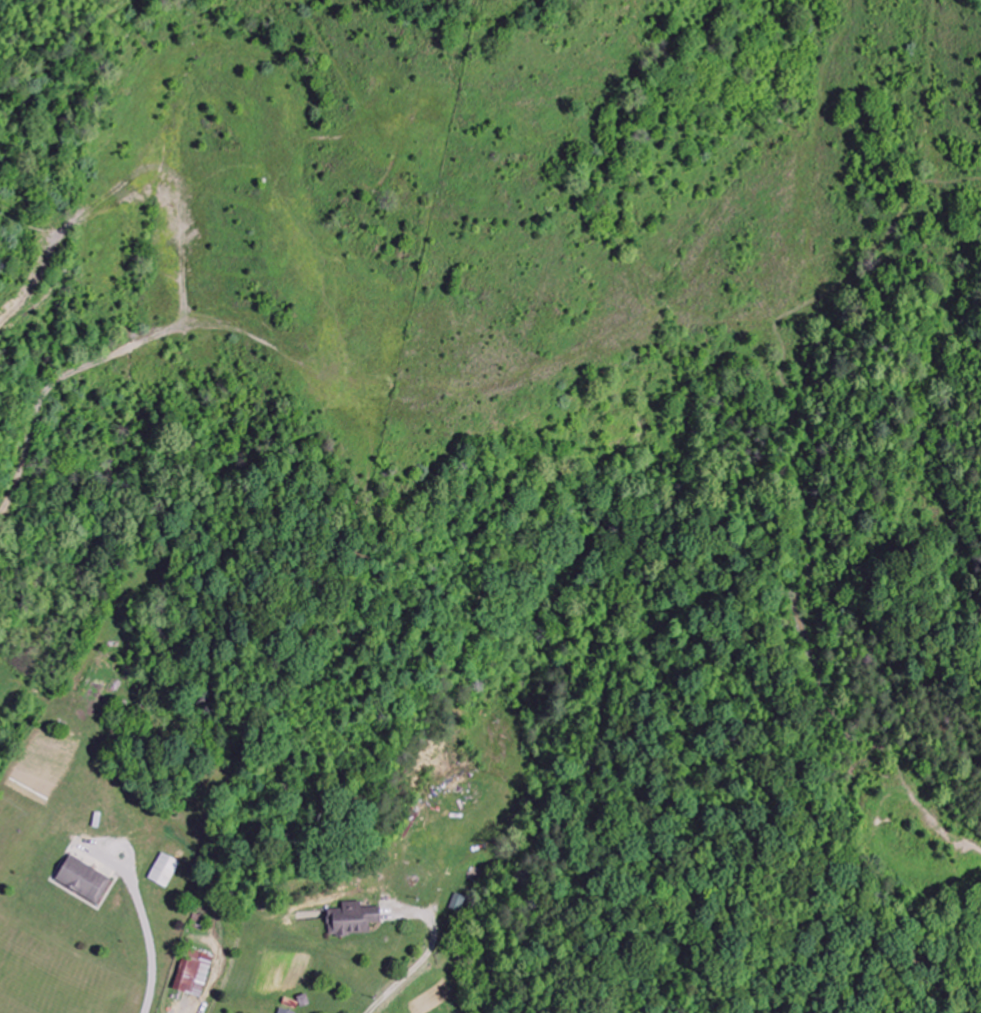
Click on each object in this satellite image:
building: (164, 870)
building: (84, 880)
building: (460, 903)
building: (353, 920)
road: (417, 968)
building: (194, 973)
building: (283, 1011)

